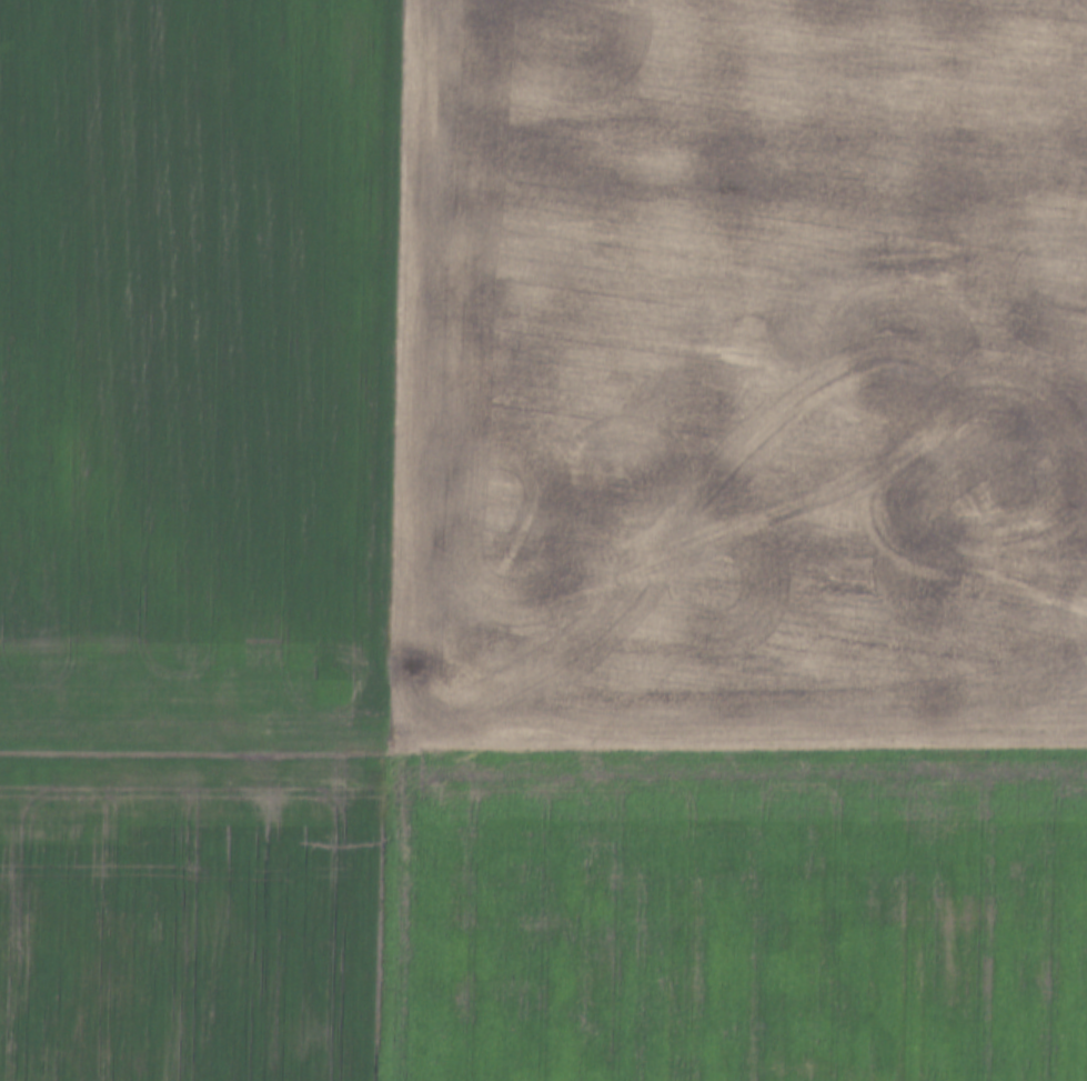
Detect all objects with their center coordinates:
crop: (192, 368)
crop: (735, 371)
crop: (731, 910)
crop: (187, 911)

